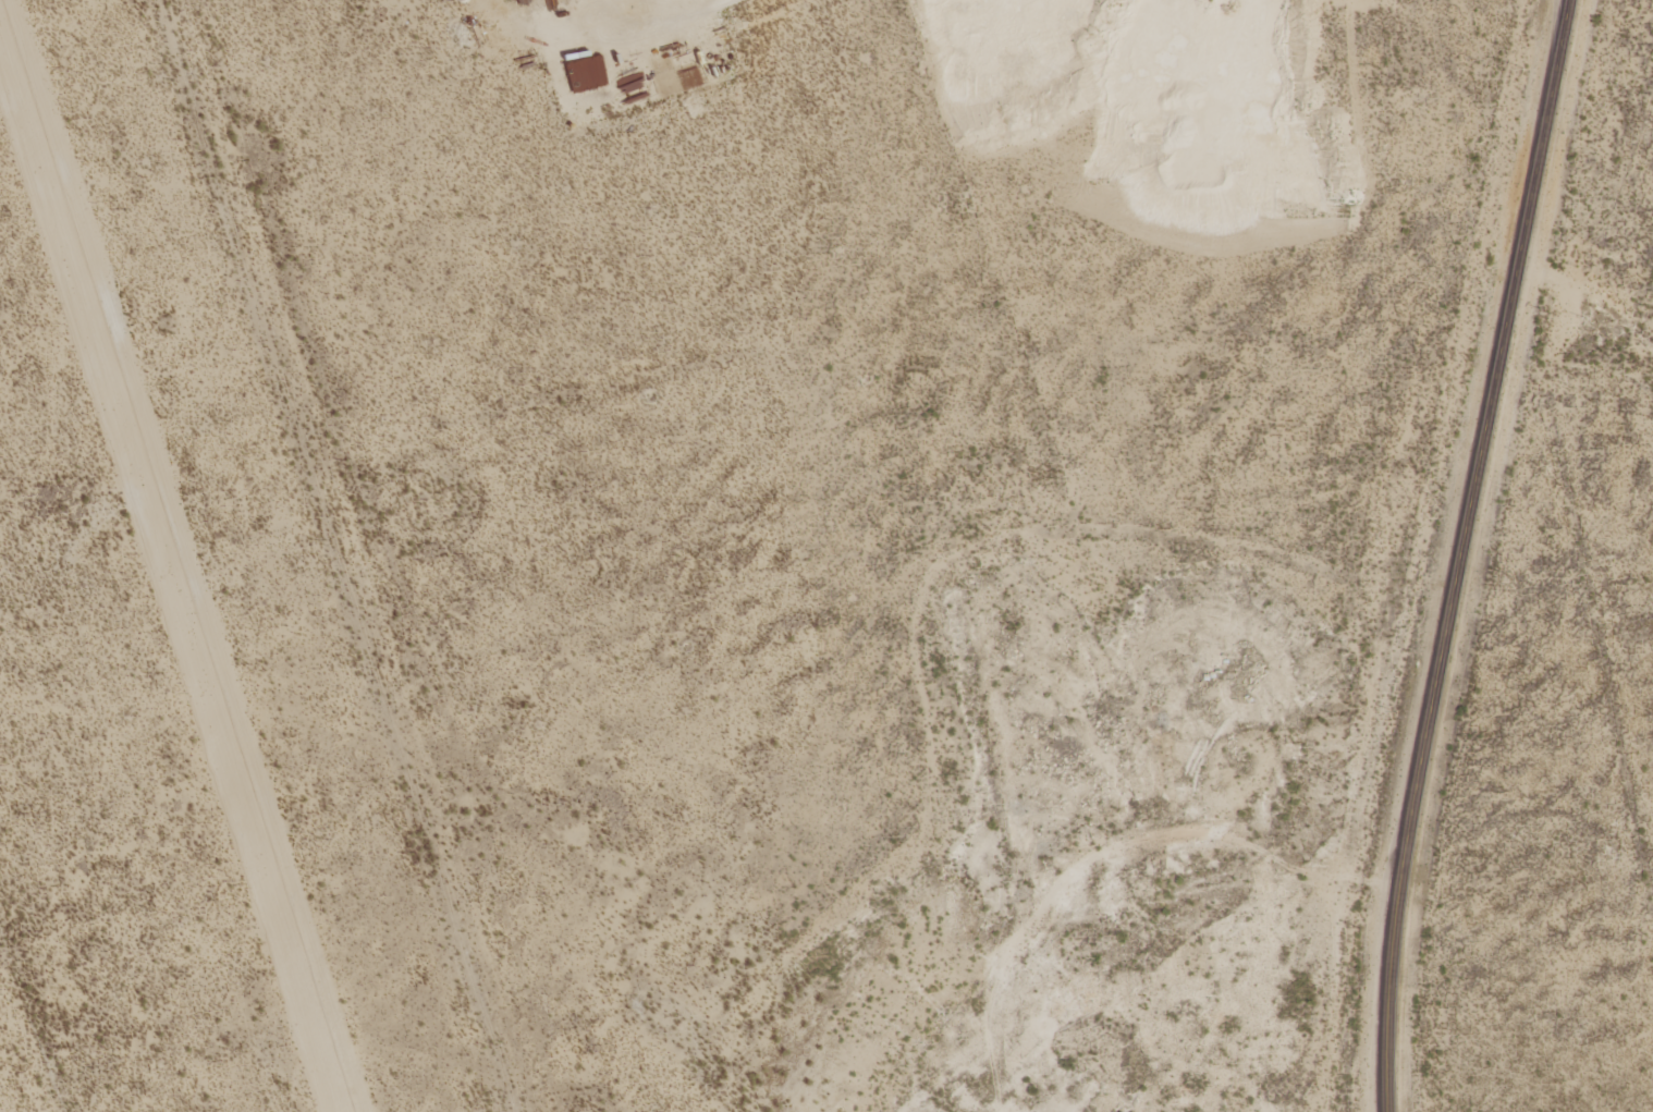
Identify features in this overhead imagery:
road: (1464, 554)

